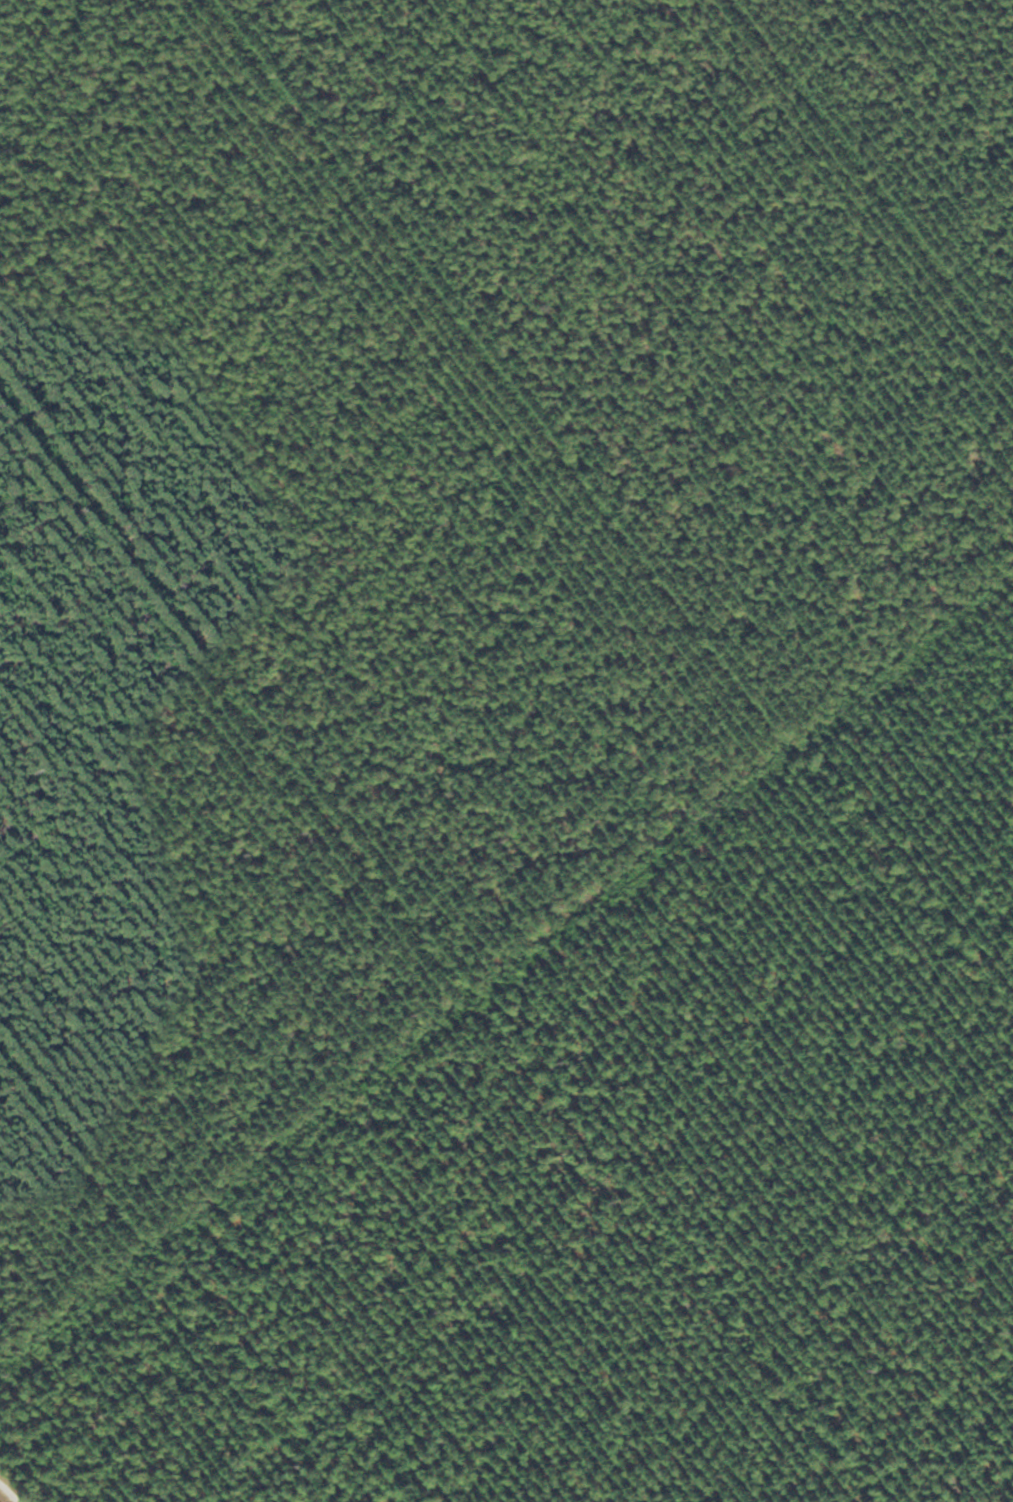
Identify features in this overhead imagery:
road: (5, 1496)

